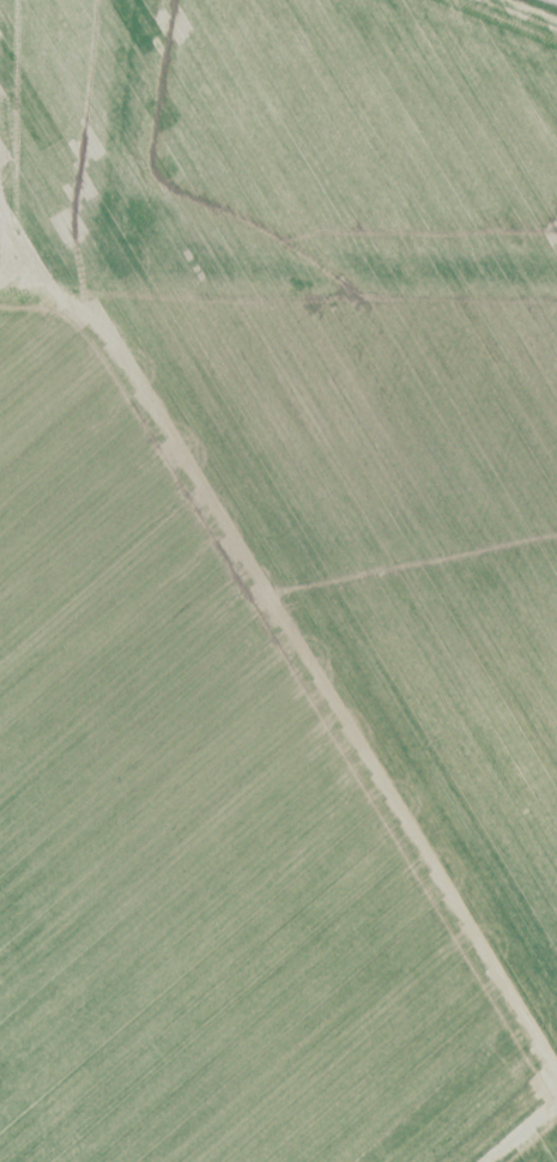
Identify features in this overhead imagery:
road: (556, 0)
road: (297, 664)
road: (522, 1132)

